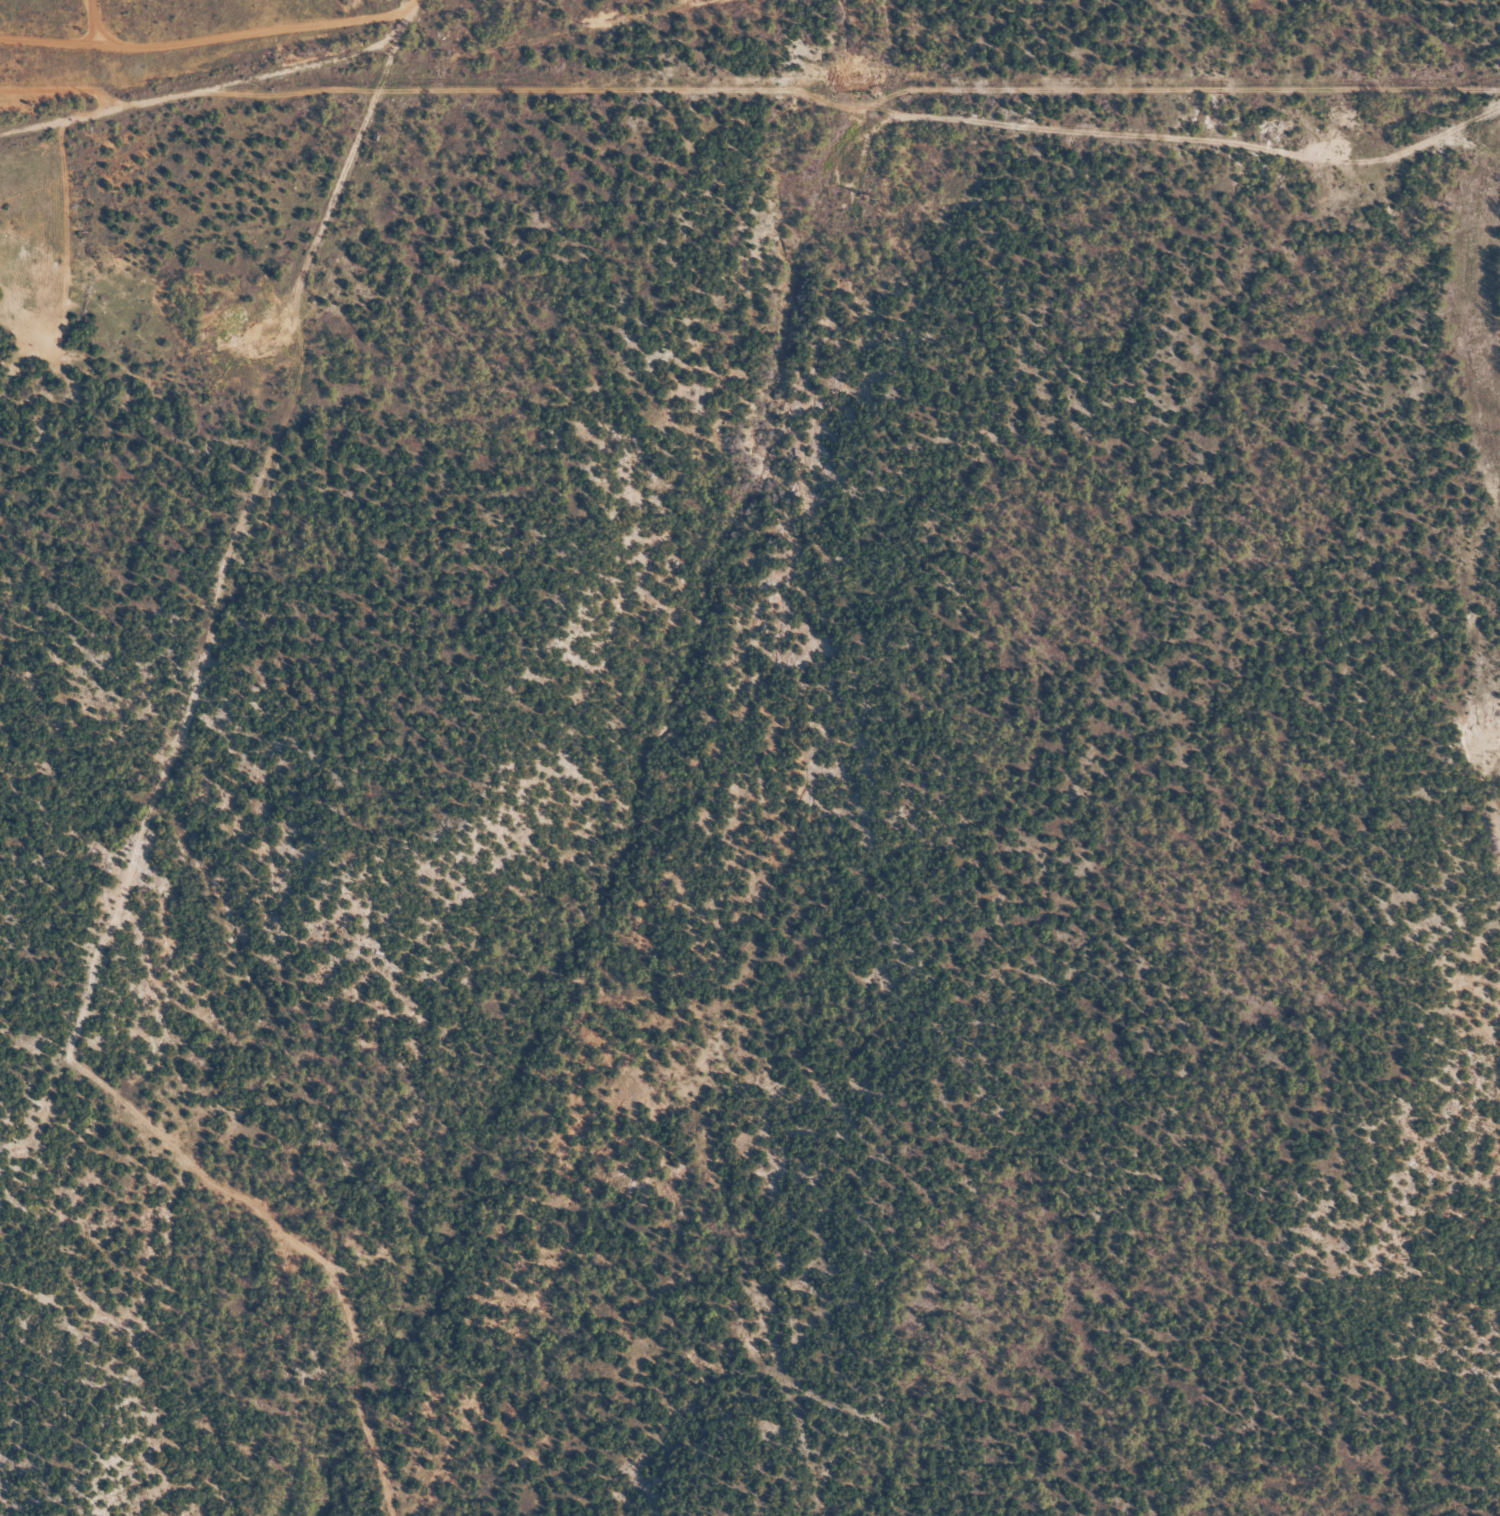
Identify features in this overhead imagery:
petroleum well: (858, 188)

